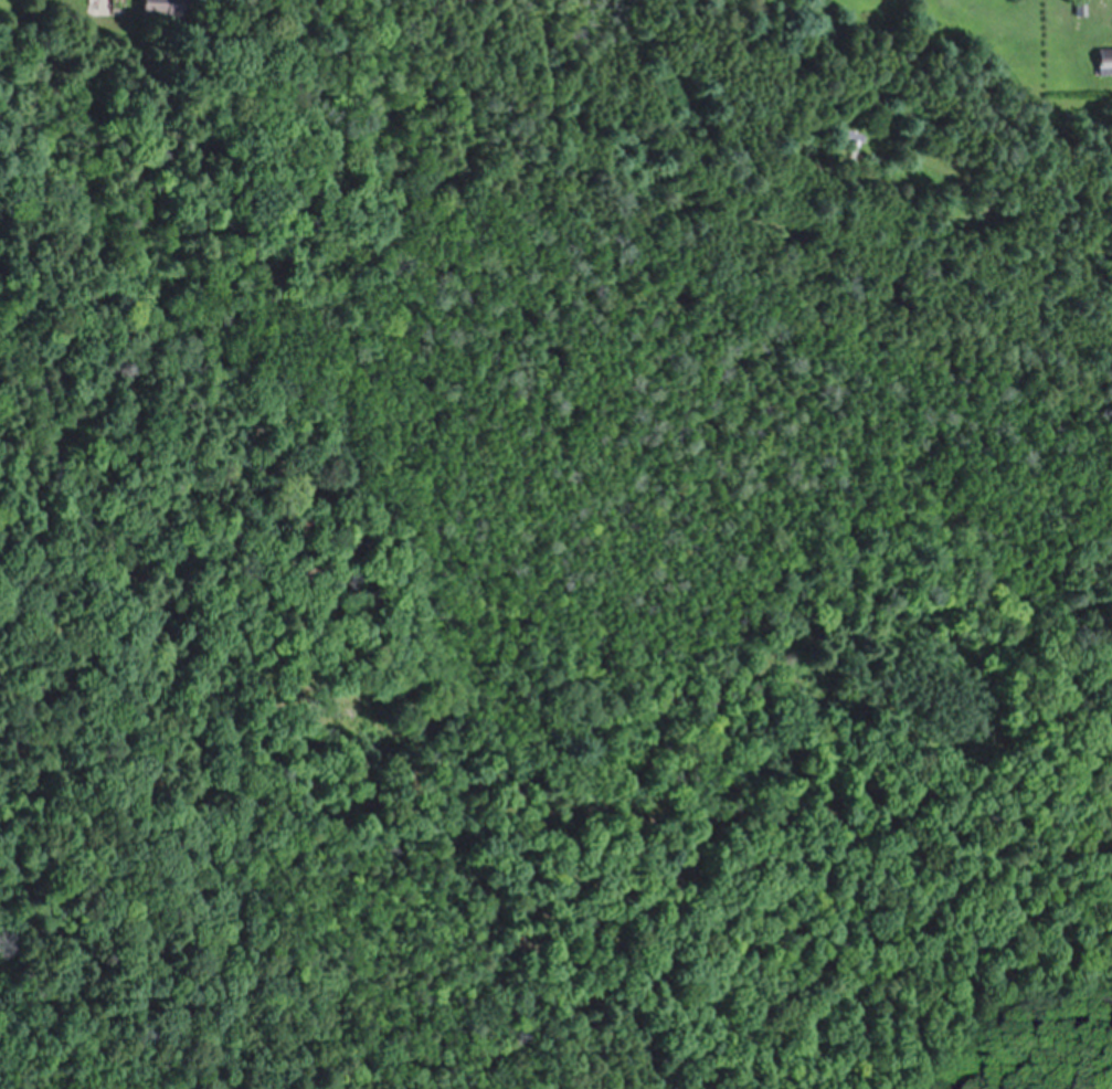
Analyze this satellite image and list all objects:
building: (165, 7)
building: (1082, 7)
building: (1106, 57)
building: (1071, 113)

